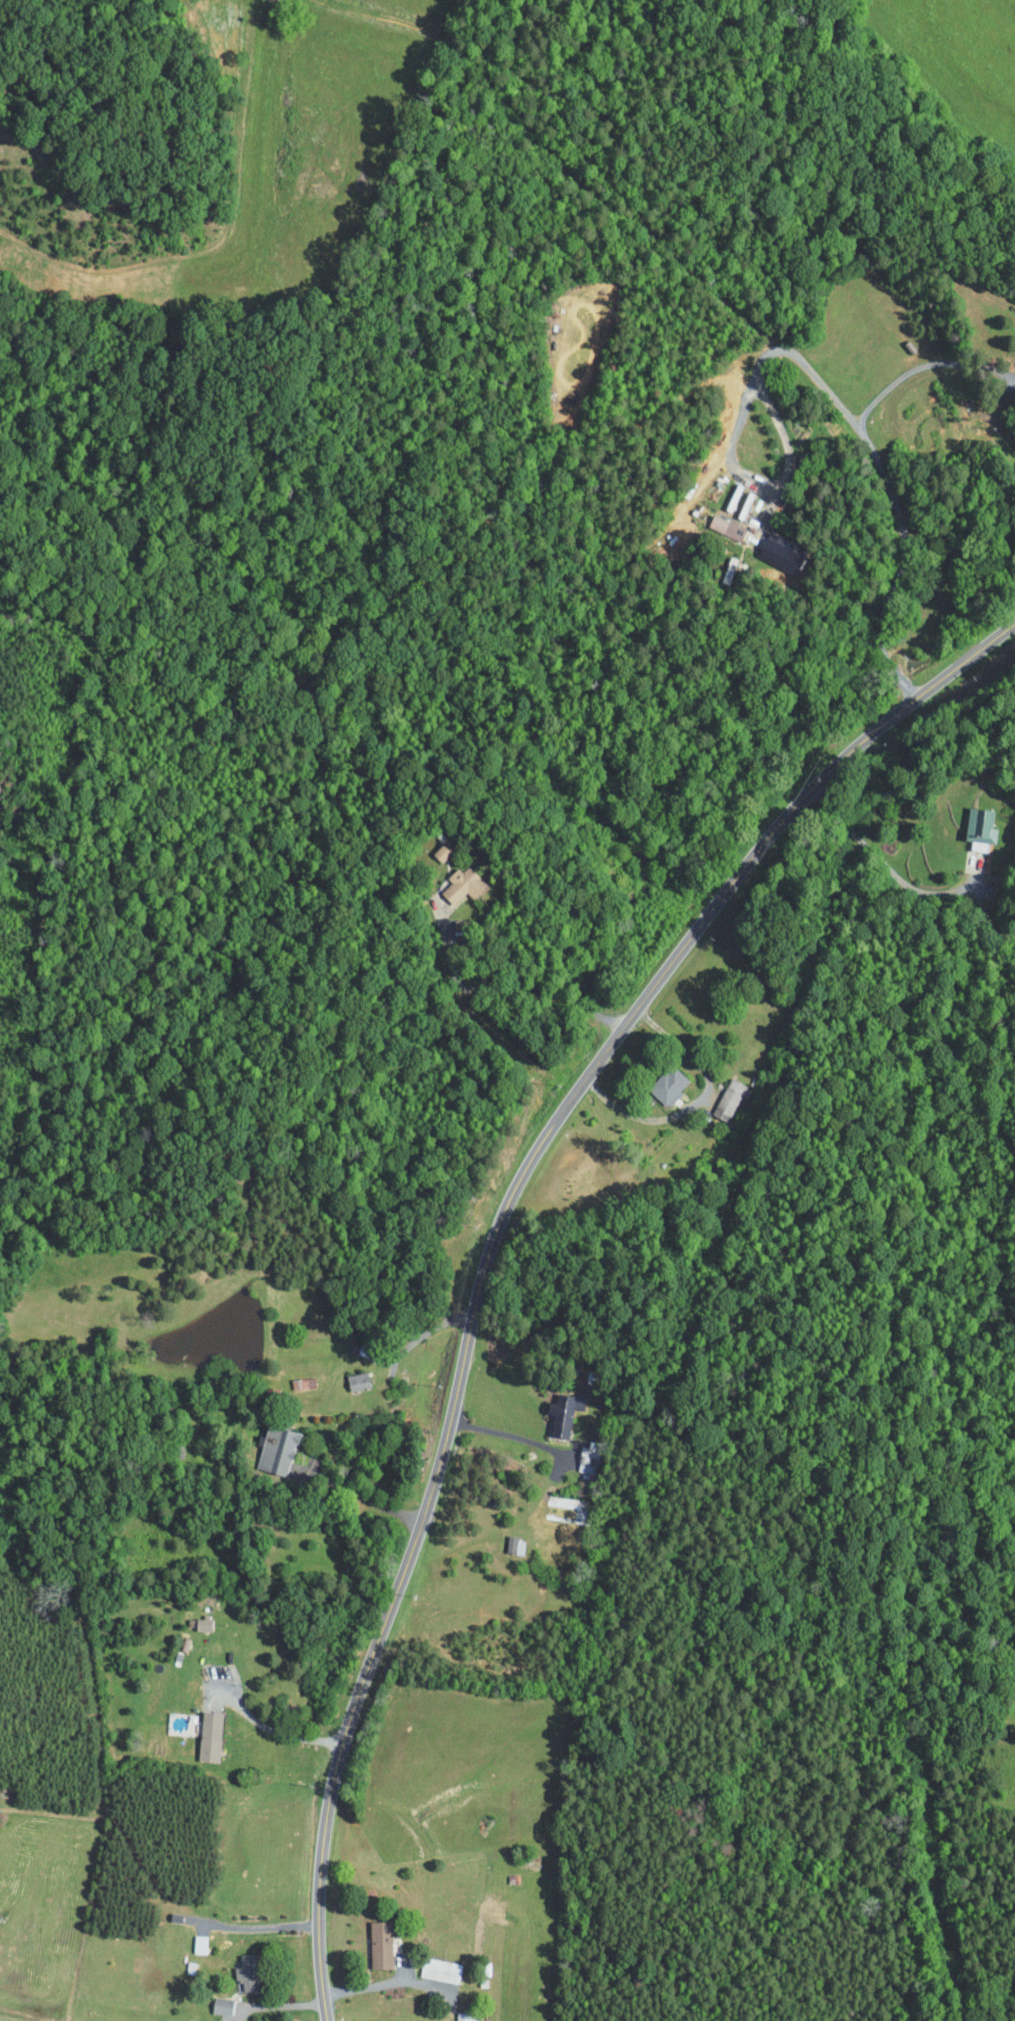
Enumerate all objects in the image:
road: (924, 367)
road: (858, 433)
building: (726, 527)
building: (781, 547)
building: (979, 826)
building: (442, 852)
road: (882, 862)
building: (462, 884)
road: (517, 989)
building: (667, 1085)
building: (728, 1099)
road: (697, 1100)
road: (496, 1235)
road: (427, 1330)
building: (357, 1379)
building: (562, 1412)
road: (507, 1434)
building: (277, 1449)
road: (359, 1494)
building: (514, 1544)
building: (202, 1624)
road: (274, 1730)
building: (209, 1736)
road: (255, 1929)
building: (199, 1943)
building: (379, 1944)
building: (439, 1969)
building: (245, 1978)
road: (389, 1983)
building: (220, 2005)
building: (468, 2017)

